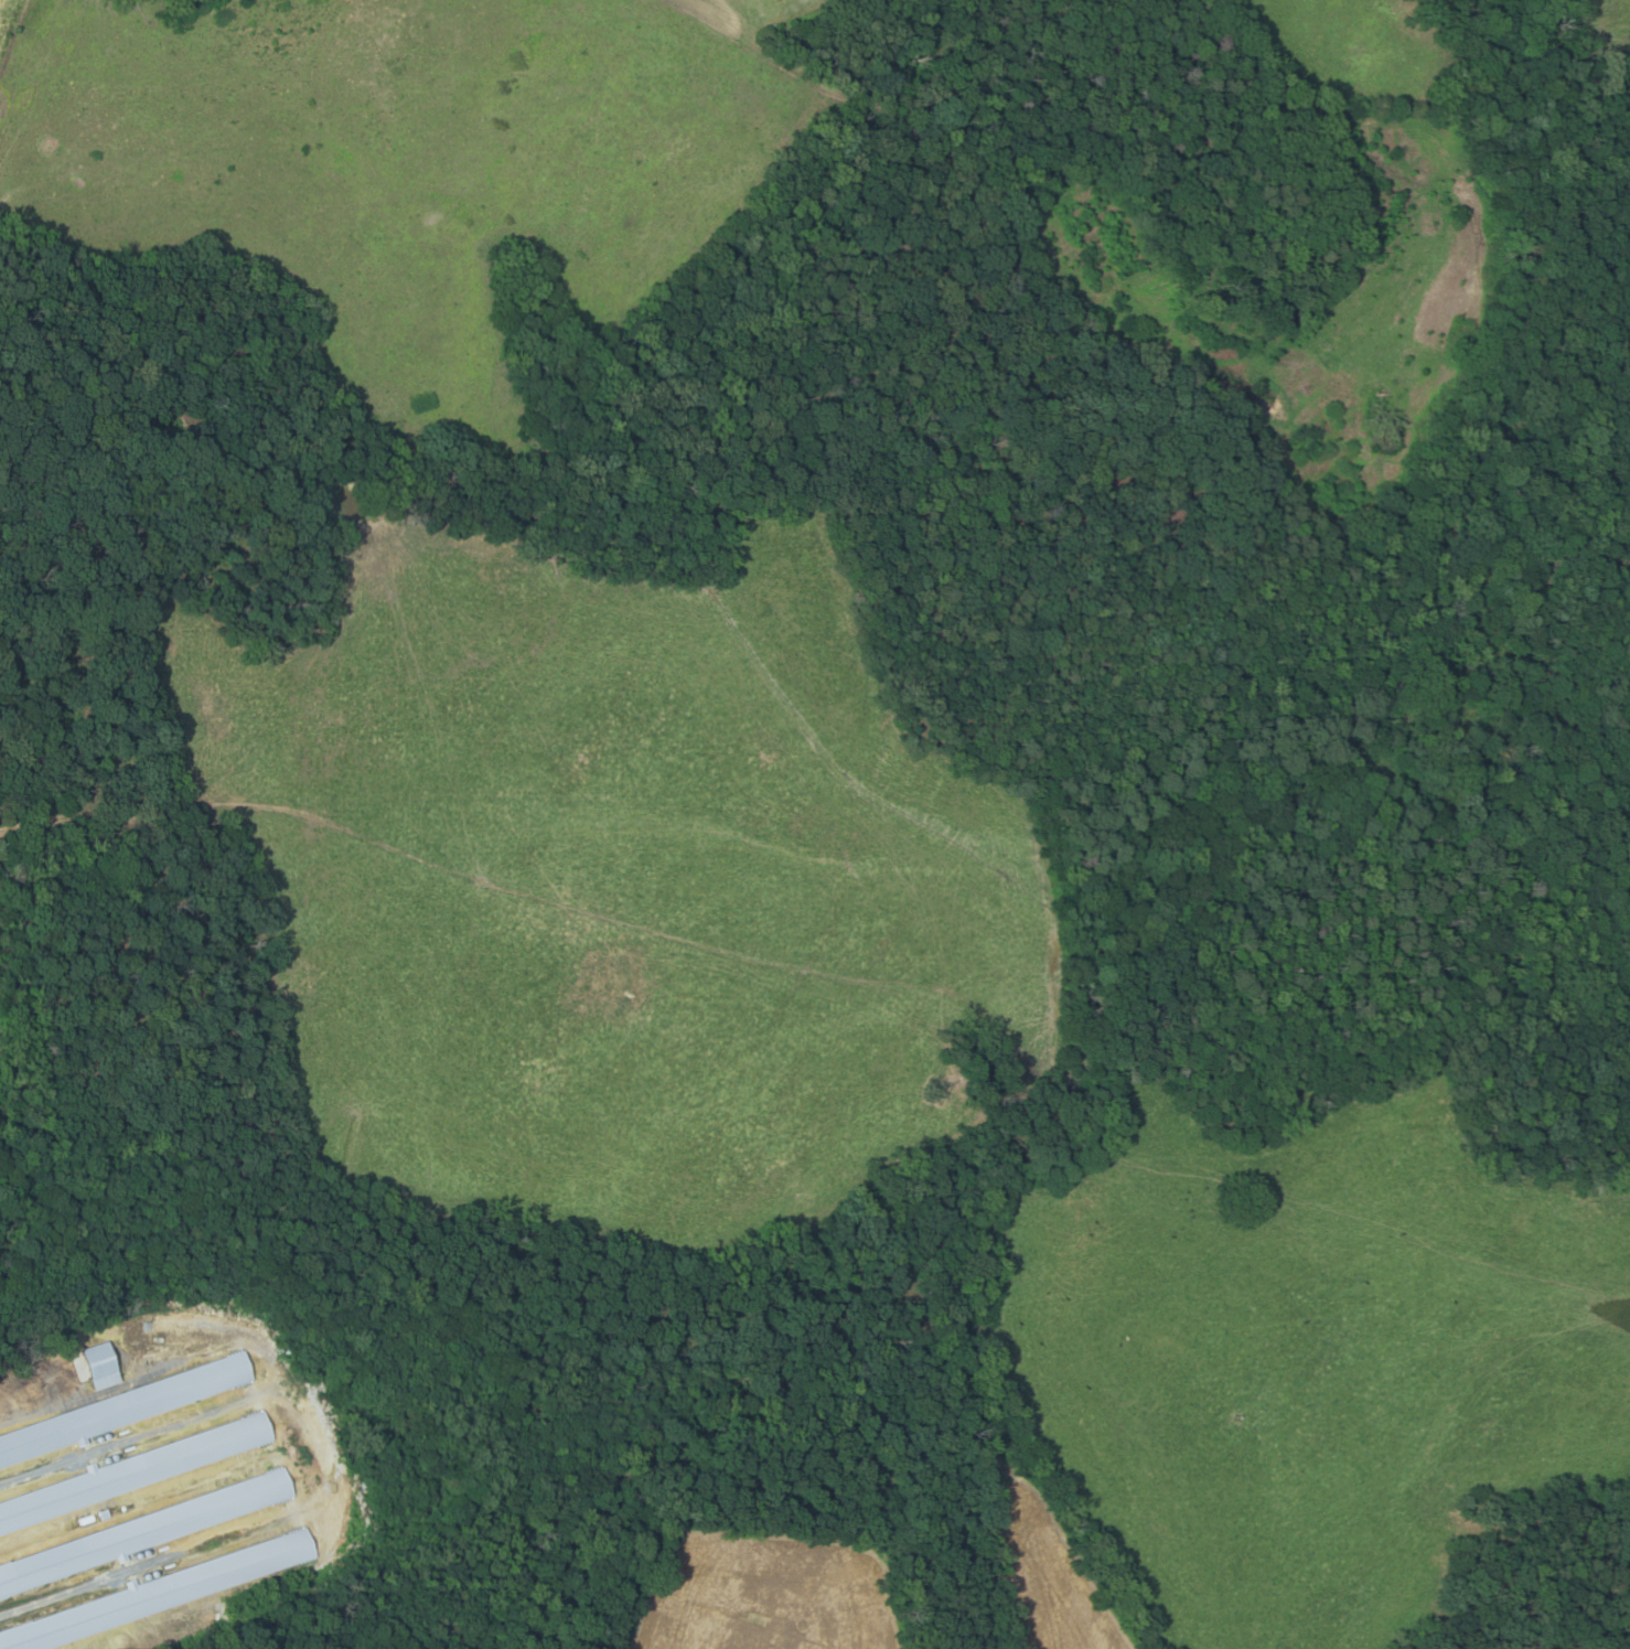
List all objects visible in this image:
building: (97, 1368)
building: (125, 1407)
building: (135, 1471)
building: (144, 1531)
crop: (1041, 1563)
building: (160, 1592)
crop: (770, 1595)

